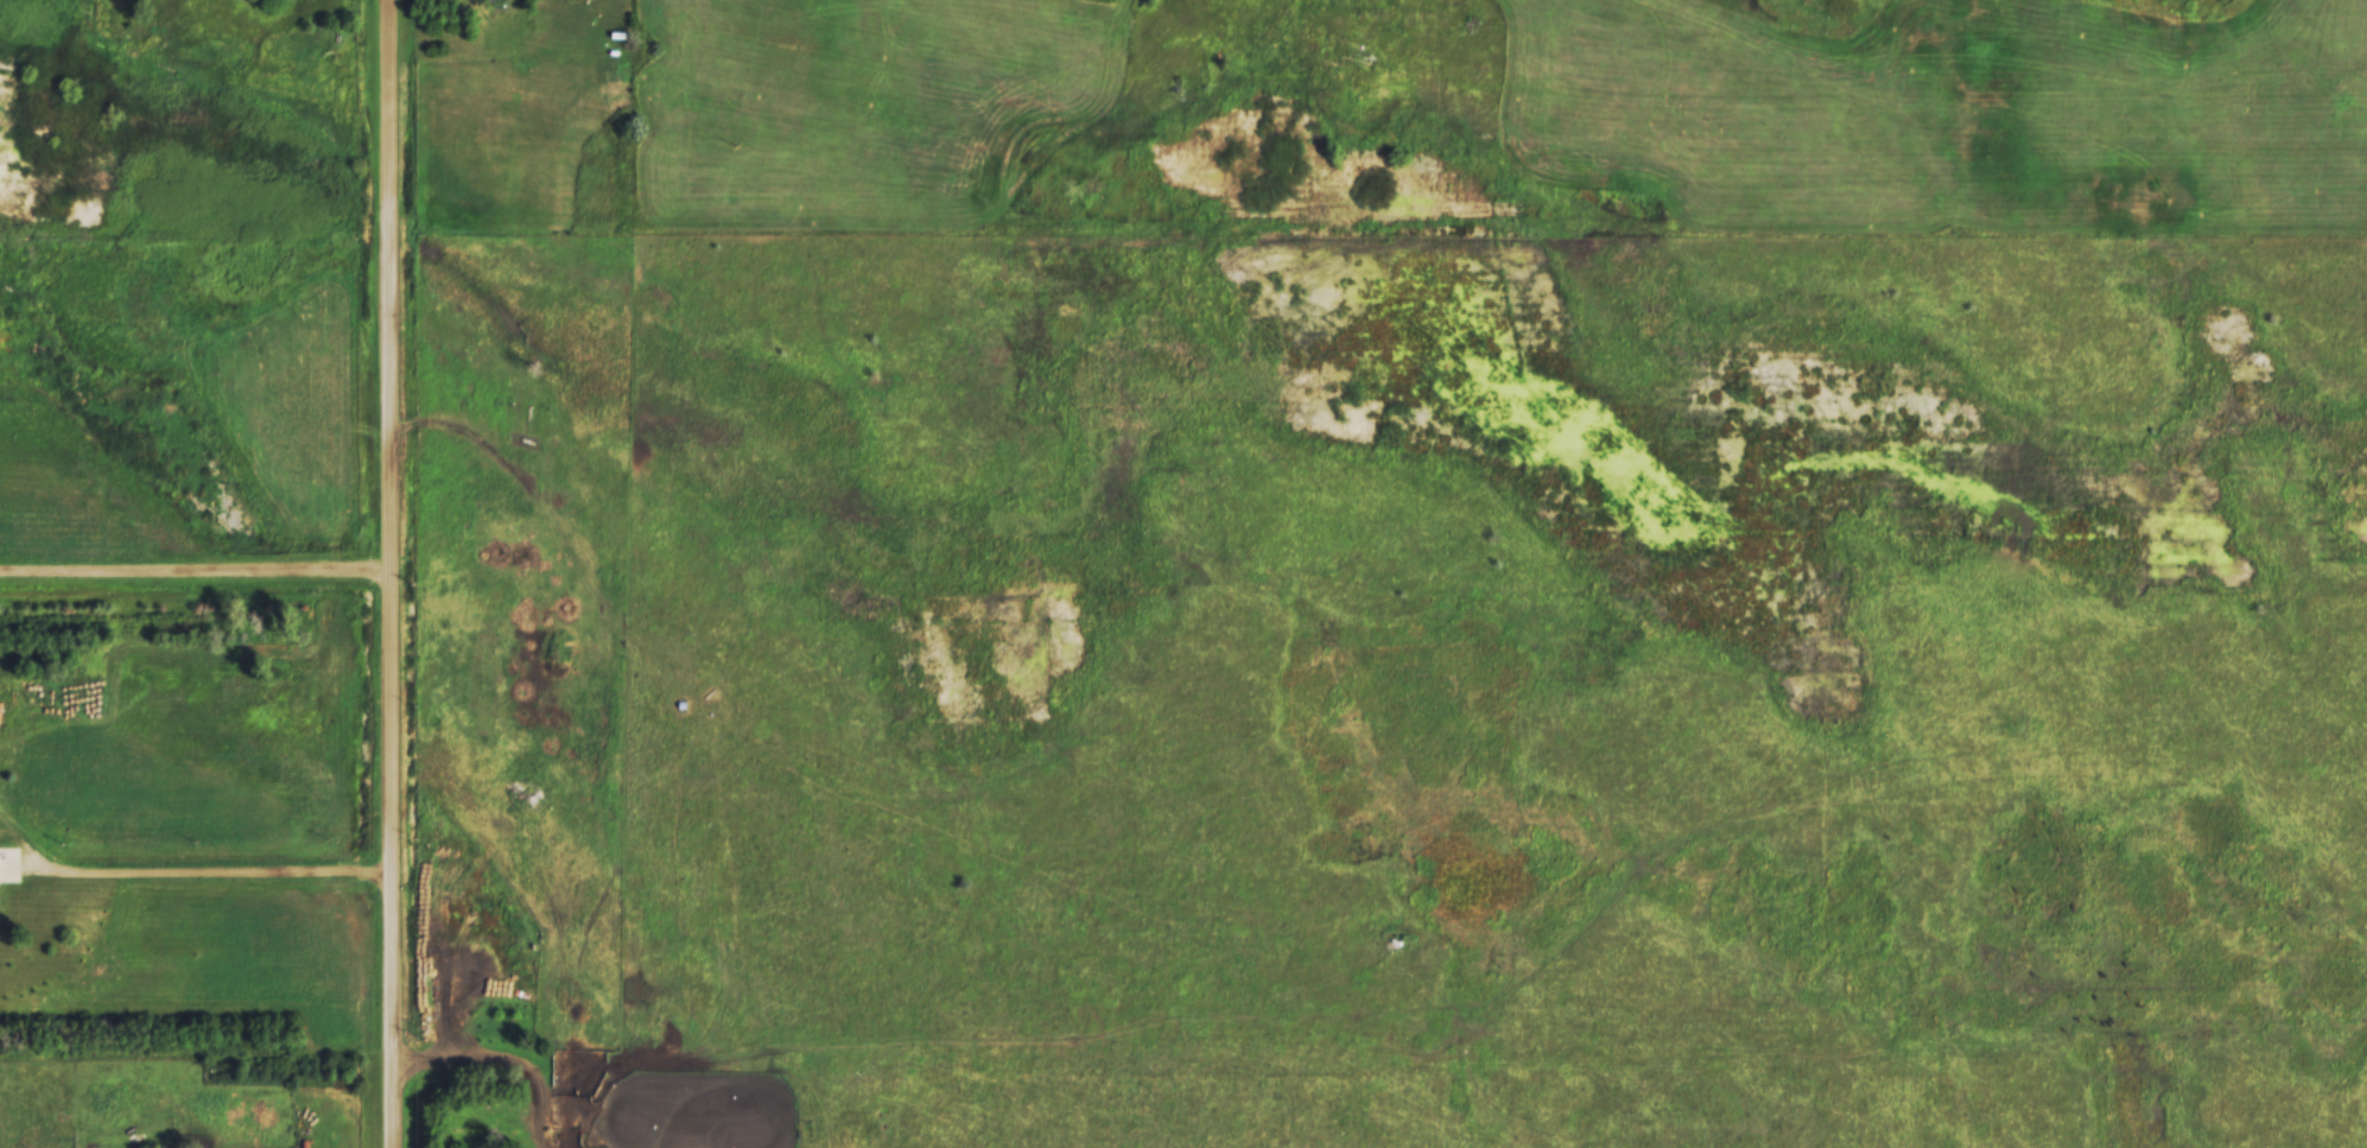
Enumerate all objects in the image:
road: (195, 567)
road: (389, 573)
road: (195, 876)
road: (497, 1064)

